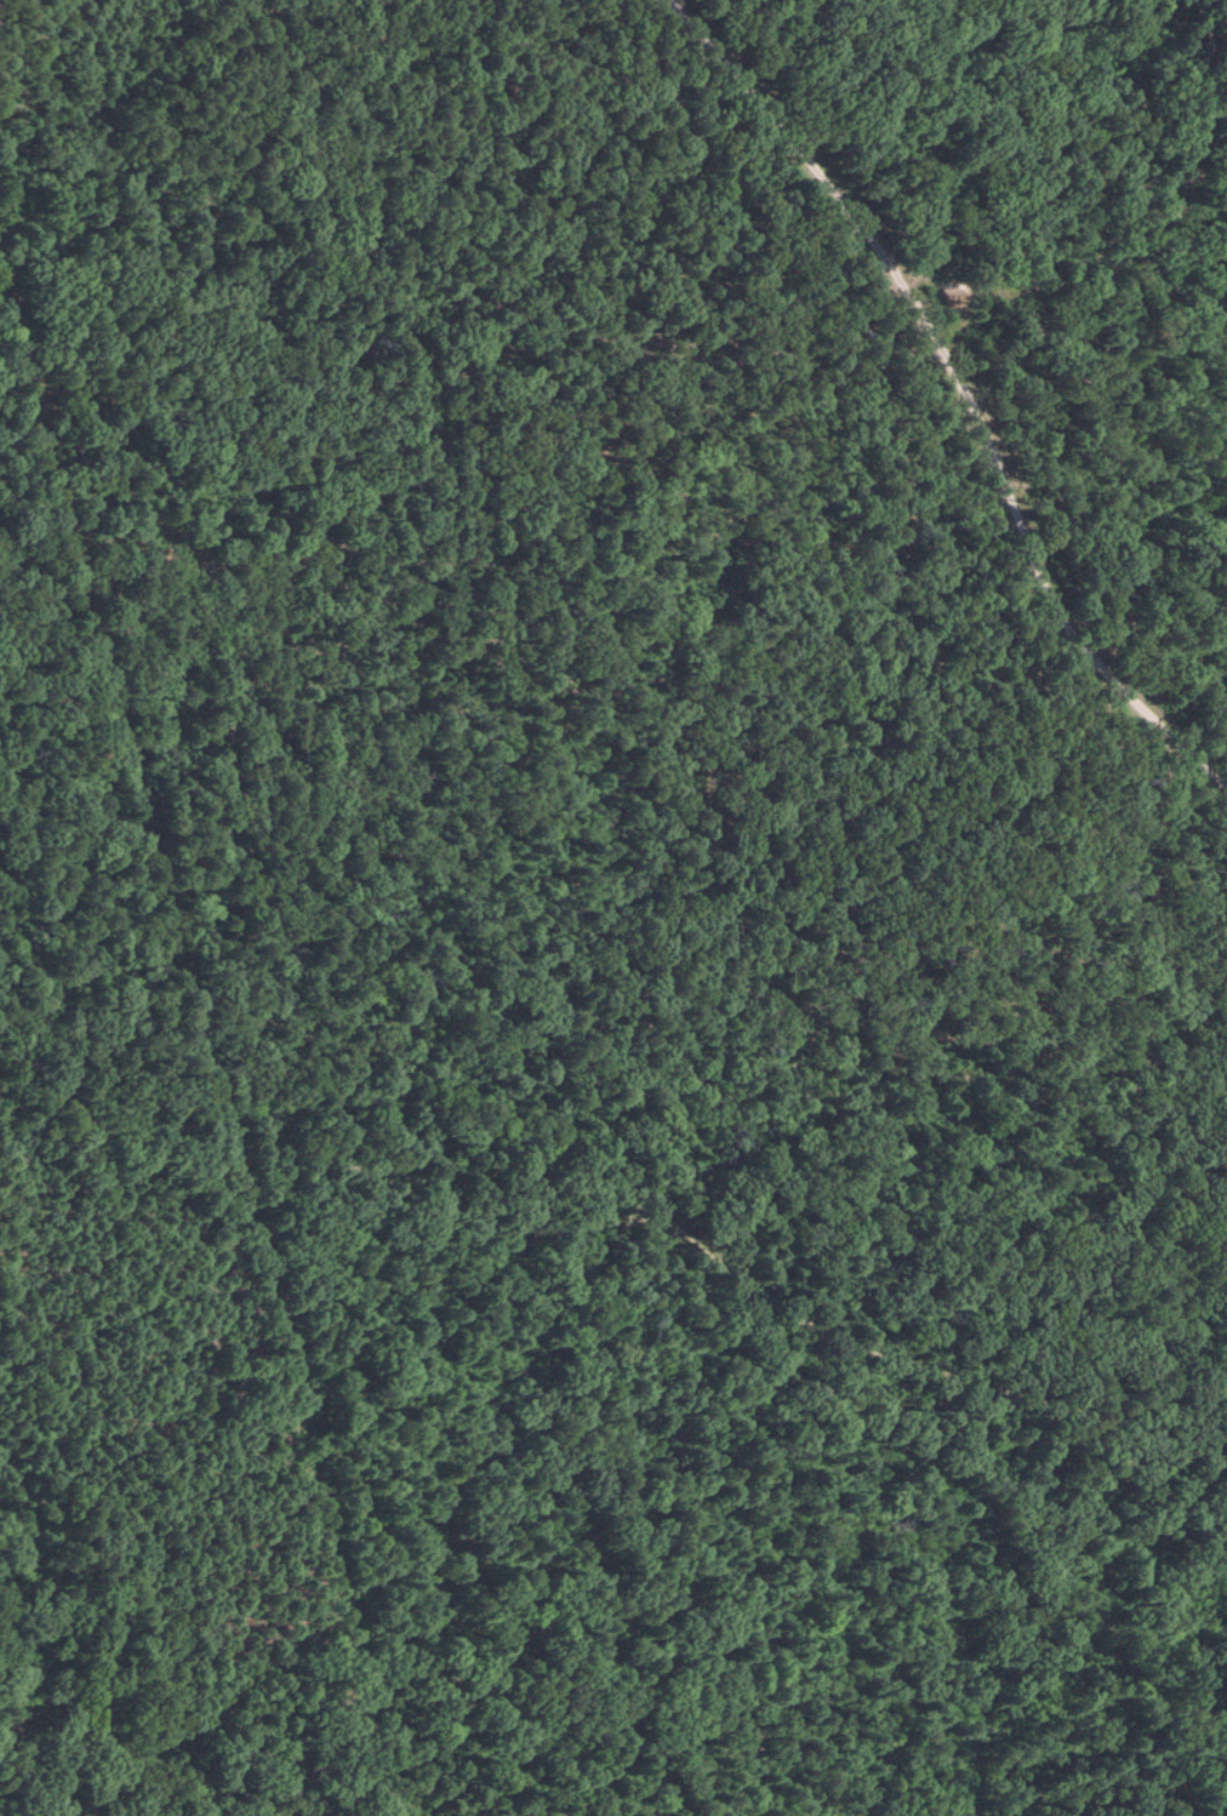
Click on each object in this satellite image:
road: (960, 390)

